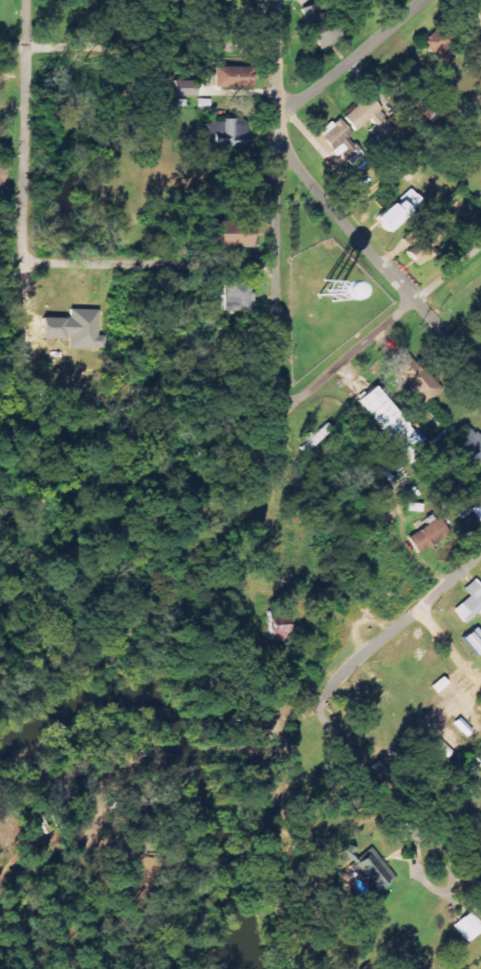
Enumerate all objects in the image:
building: (357, 1)
road: (469, 13)
building: (321, 27)
road: (137, 42)
building: (441, 53)
road: (351, 60)
building: (234, 77)
building: (185, 88)
building: (204, 103)
building: (433, 109)
building: (369, 118)
road: (170, 132)
building: (226, 133)
building: (341, 141)
road: (27, 192)
building: (399, 211)
road: (276, 239)
building: (233, 240)
building: (418, 255)
road: (377, 259)
road: (86, 262)
road: (224, 266)
building: (330, 289)
building: (238, 294)
building: (75, 328)
road: (379, 330)
building: (415, 376)
building: (393, 425)
building: (470, 446)
building: (477, 510)
building: (429, 535)
building: (470, 602)
road: (399, 624)
building: (278, 633)
building: (474, 640)
road: (450, 646)
river: (192, 743)
building: (479, 759)
road: (366, 777)
building: (369, 869)

